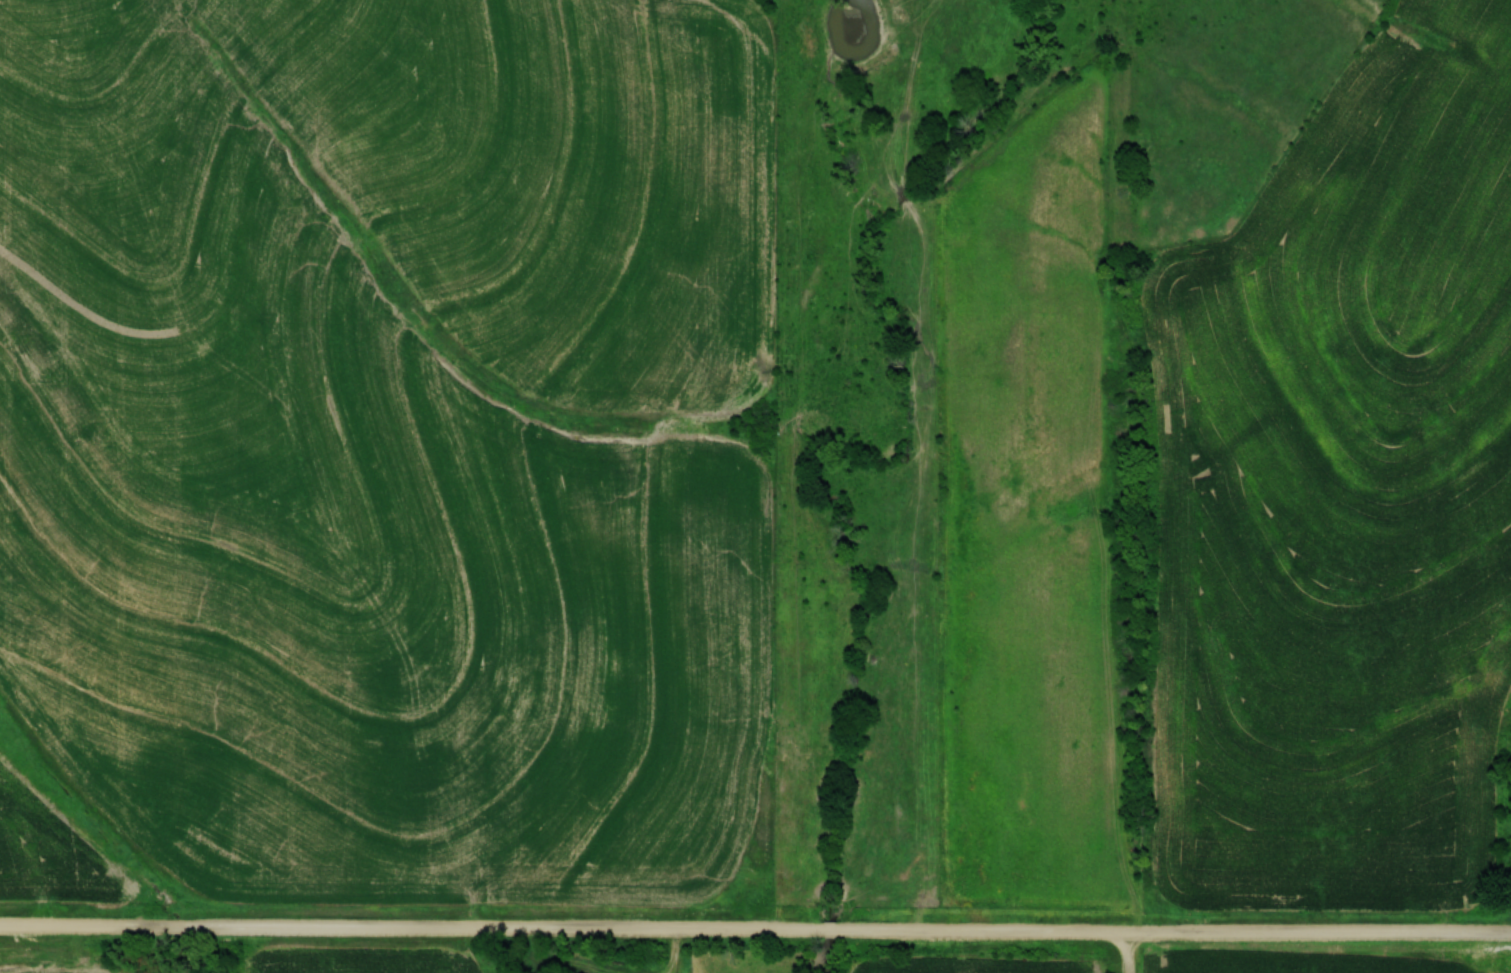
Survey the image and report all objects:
road: (755, 929)
road: (677, 950)
road: (1129, 952)

